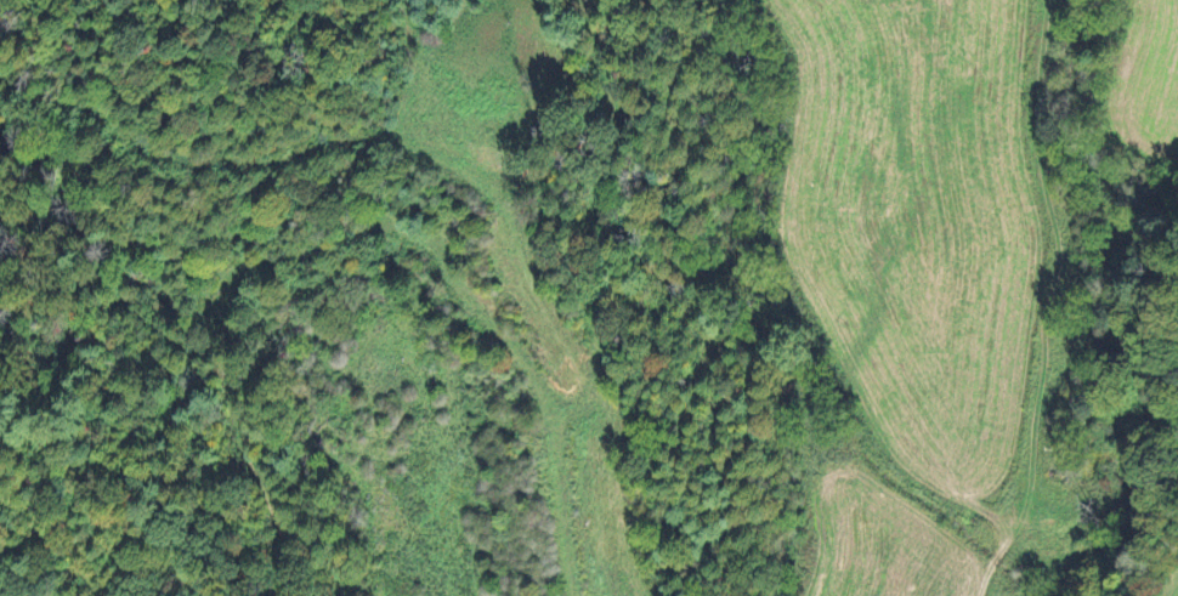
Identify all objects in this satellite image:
road: (1049, 302)

